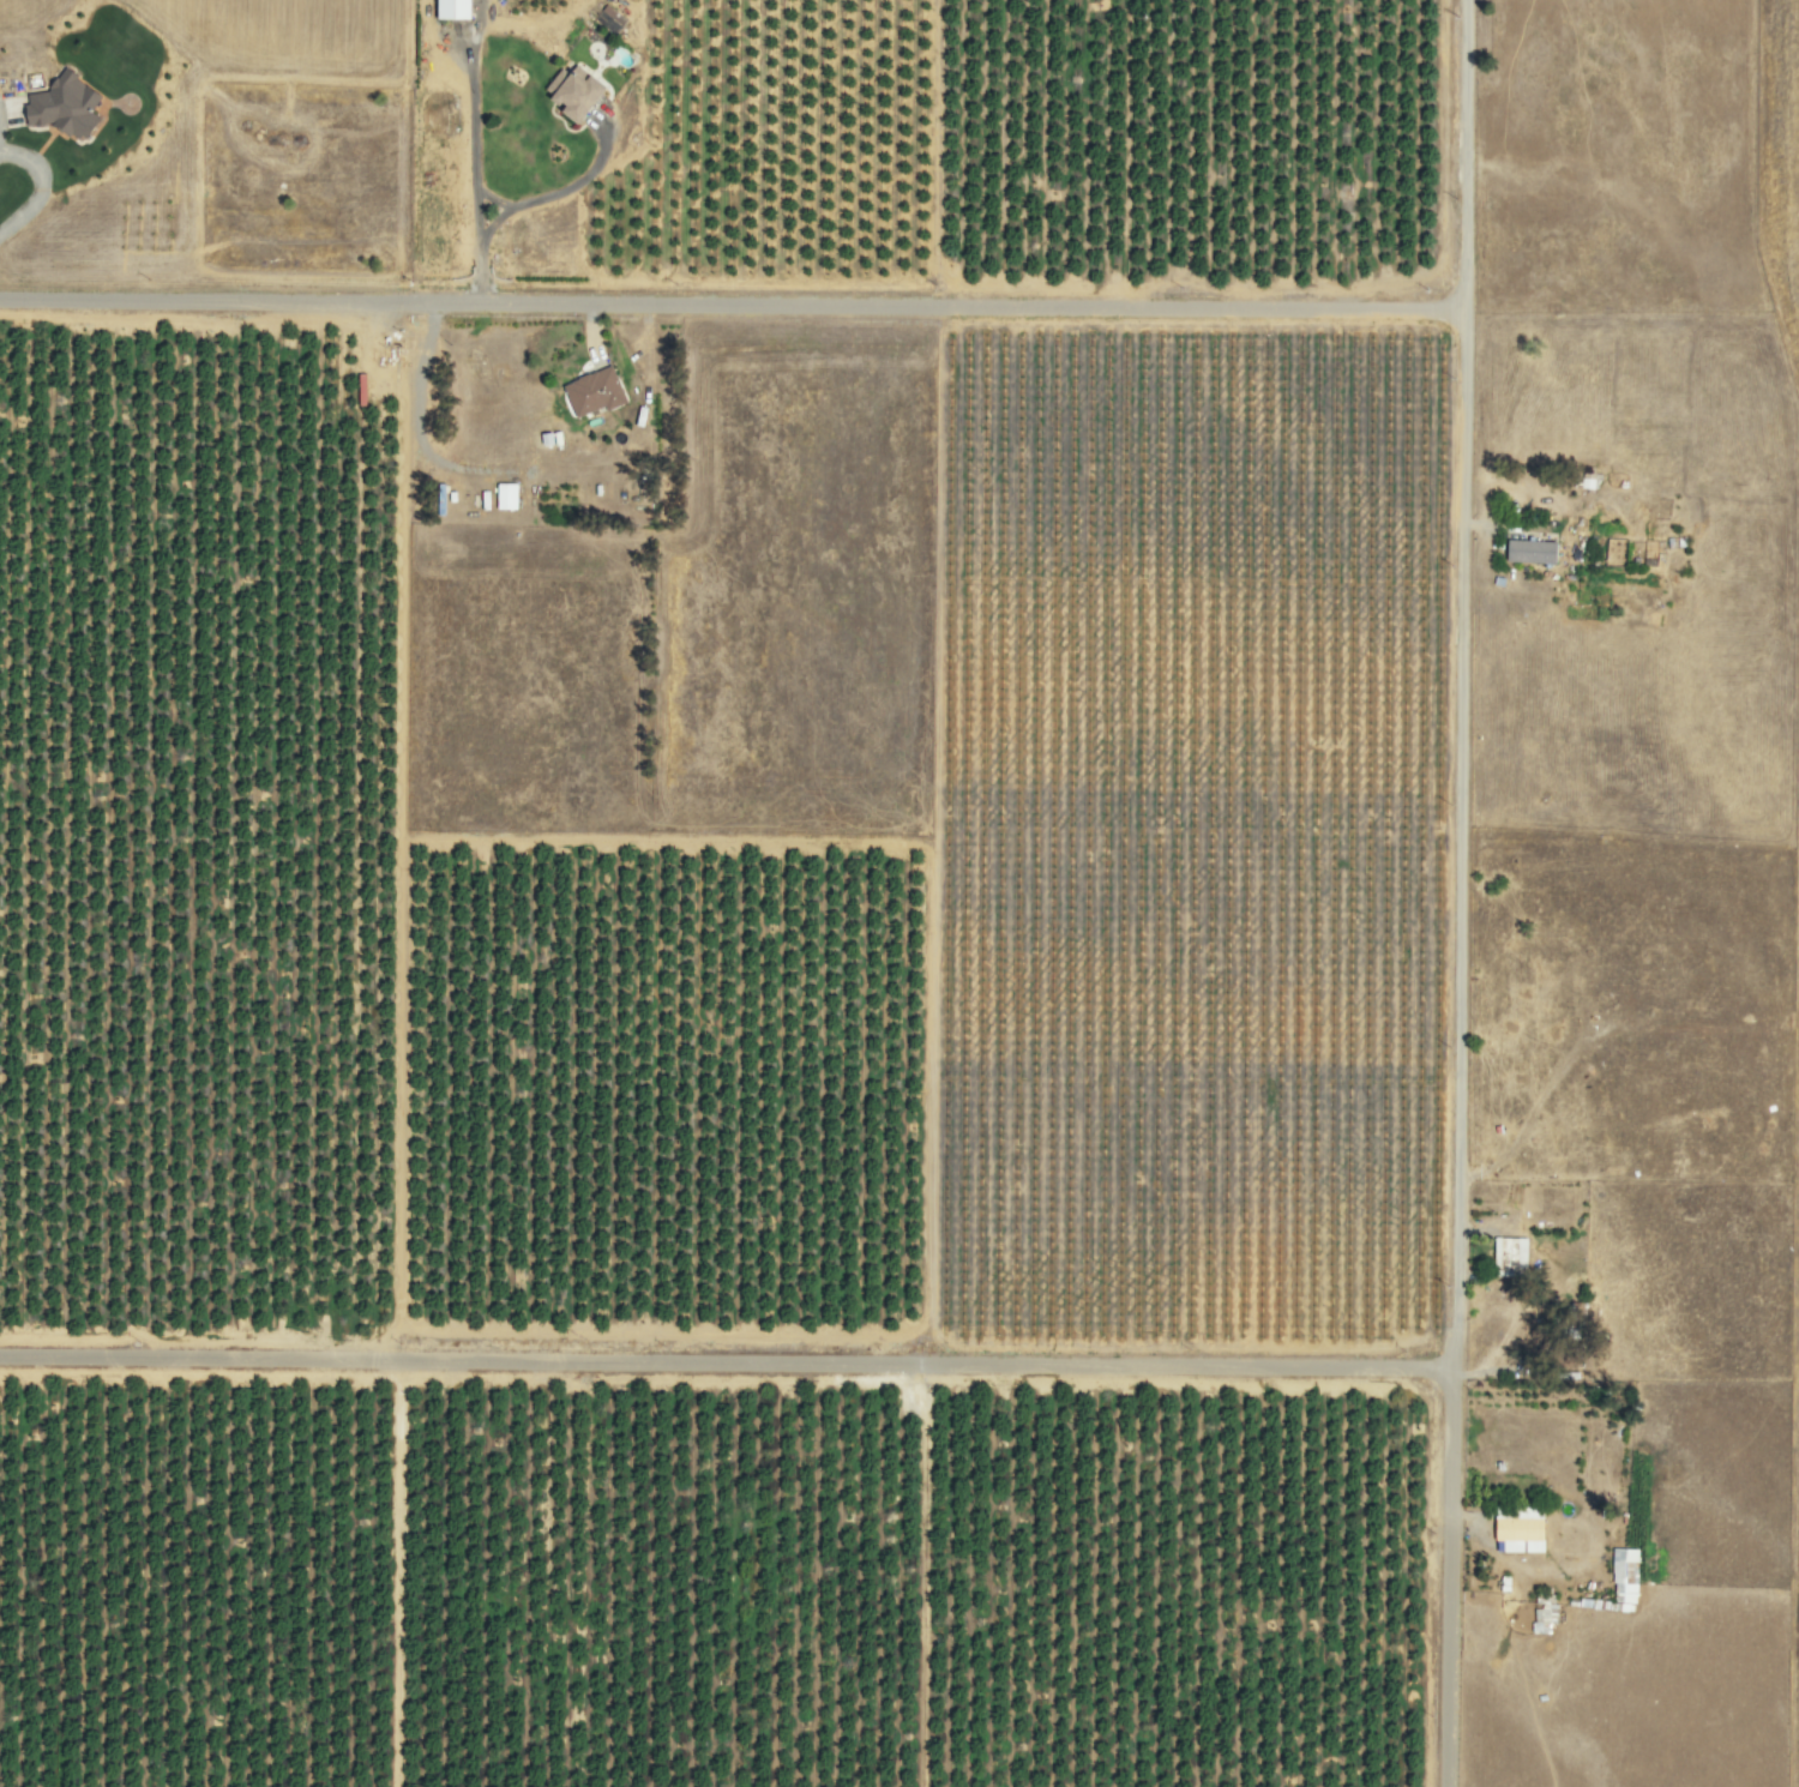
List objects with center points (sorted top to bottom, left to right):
building: (446, 10)
building: (567, 95)
building: (59, 107)
road: (1462, 156)
road: (730, 306)
building: (590, 392)
building: (501, 495)
building: (1528, 552)
road: (1442, 841)
building: (1506, 1257)
road: (726, 1364)
building: (1516, 1532)
building: (1621, 1575)
road: (1446, 1577)

